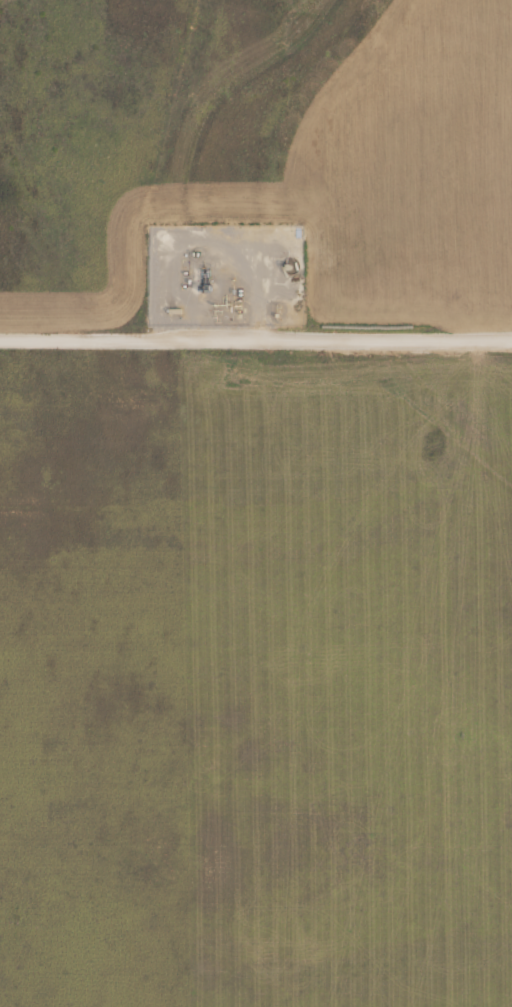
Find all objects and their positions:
road: (255, 340)

